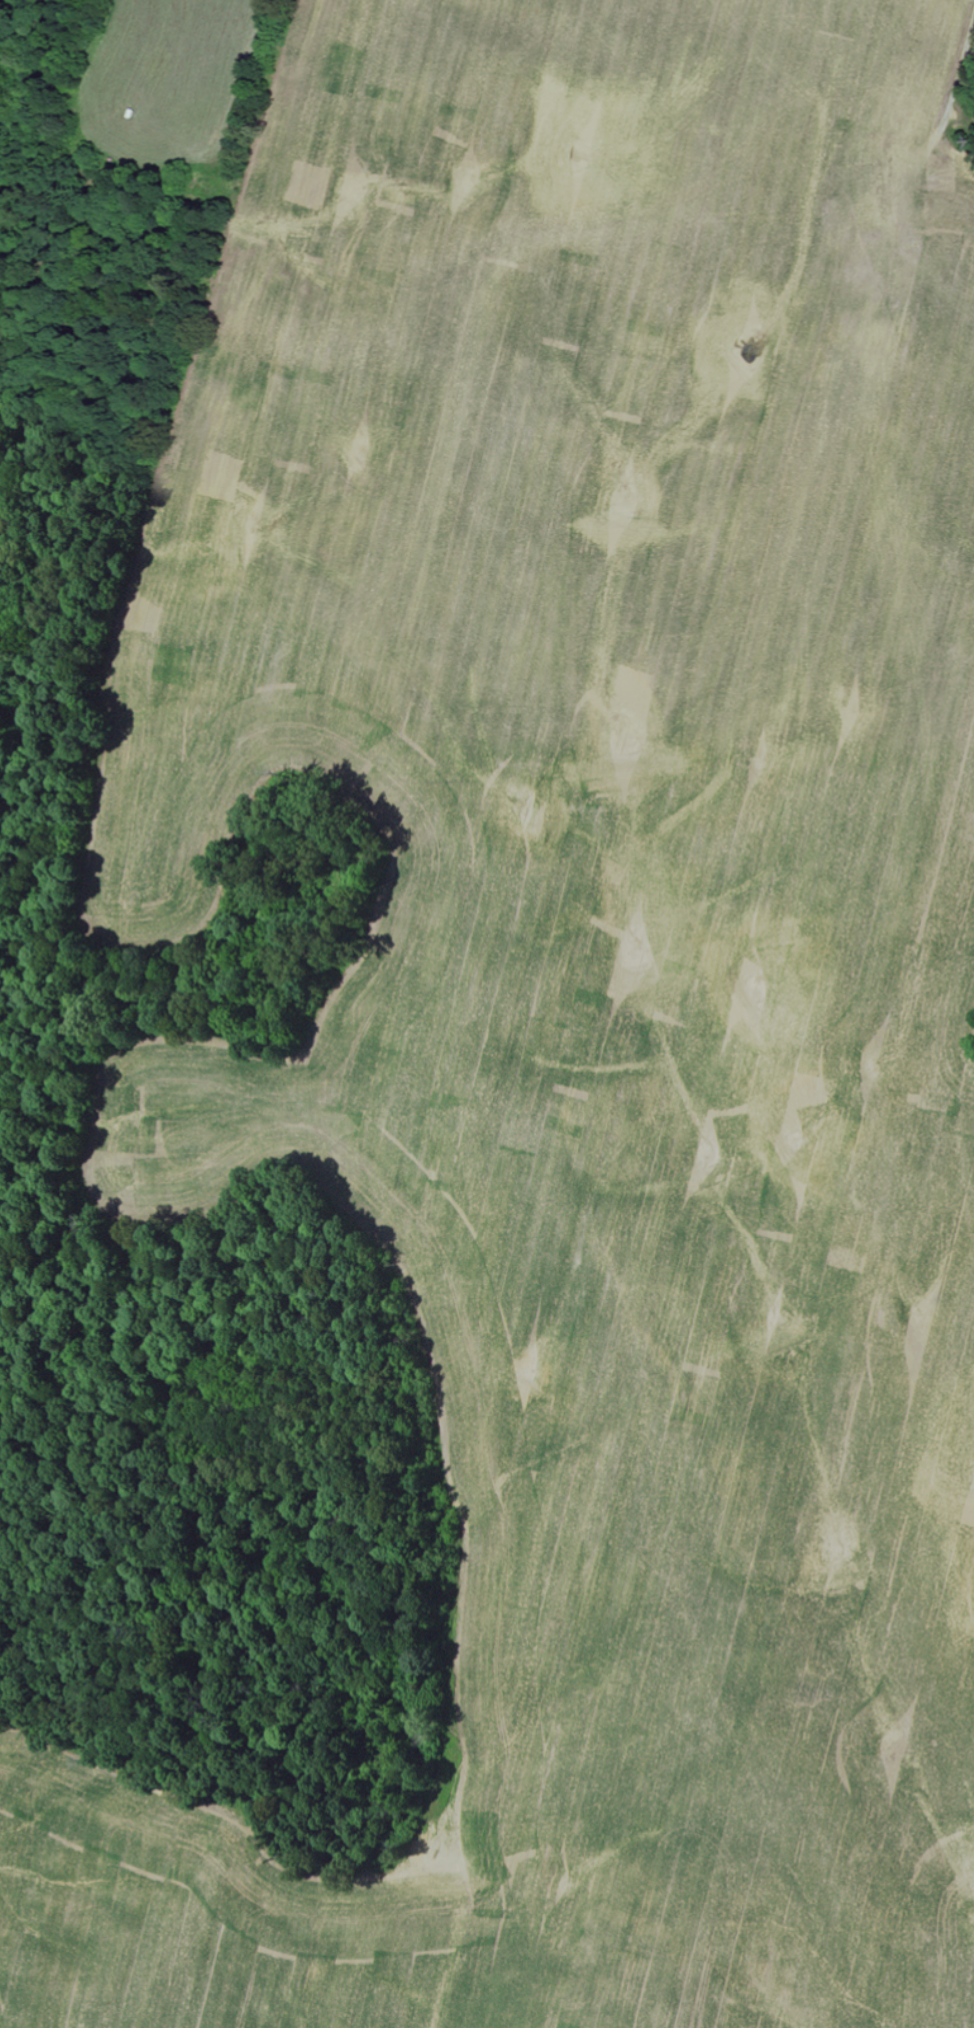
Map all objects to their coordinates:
road: (948, 109)

